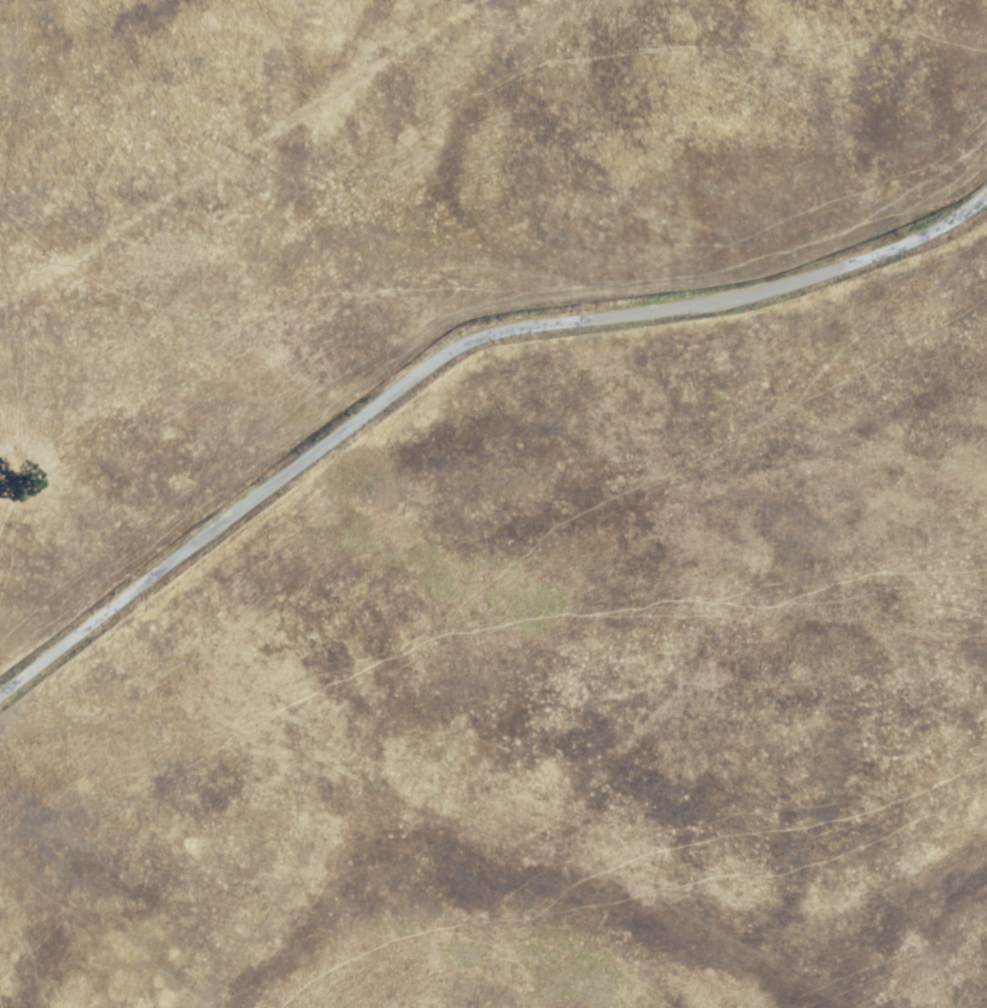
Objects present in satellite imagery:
road: (447, 343)

